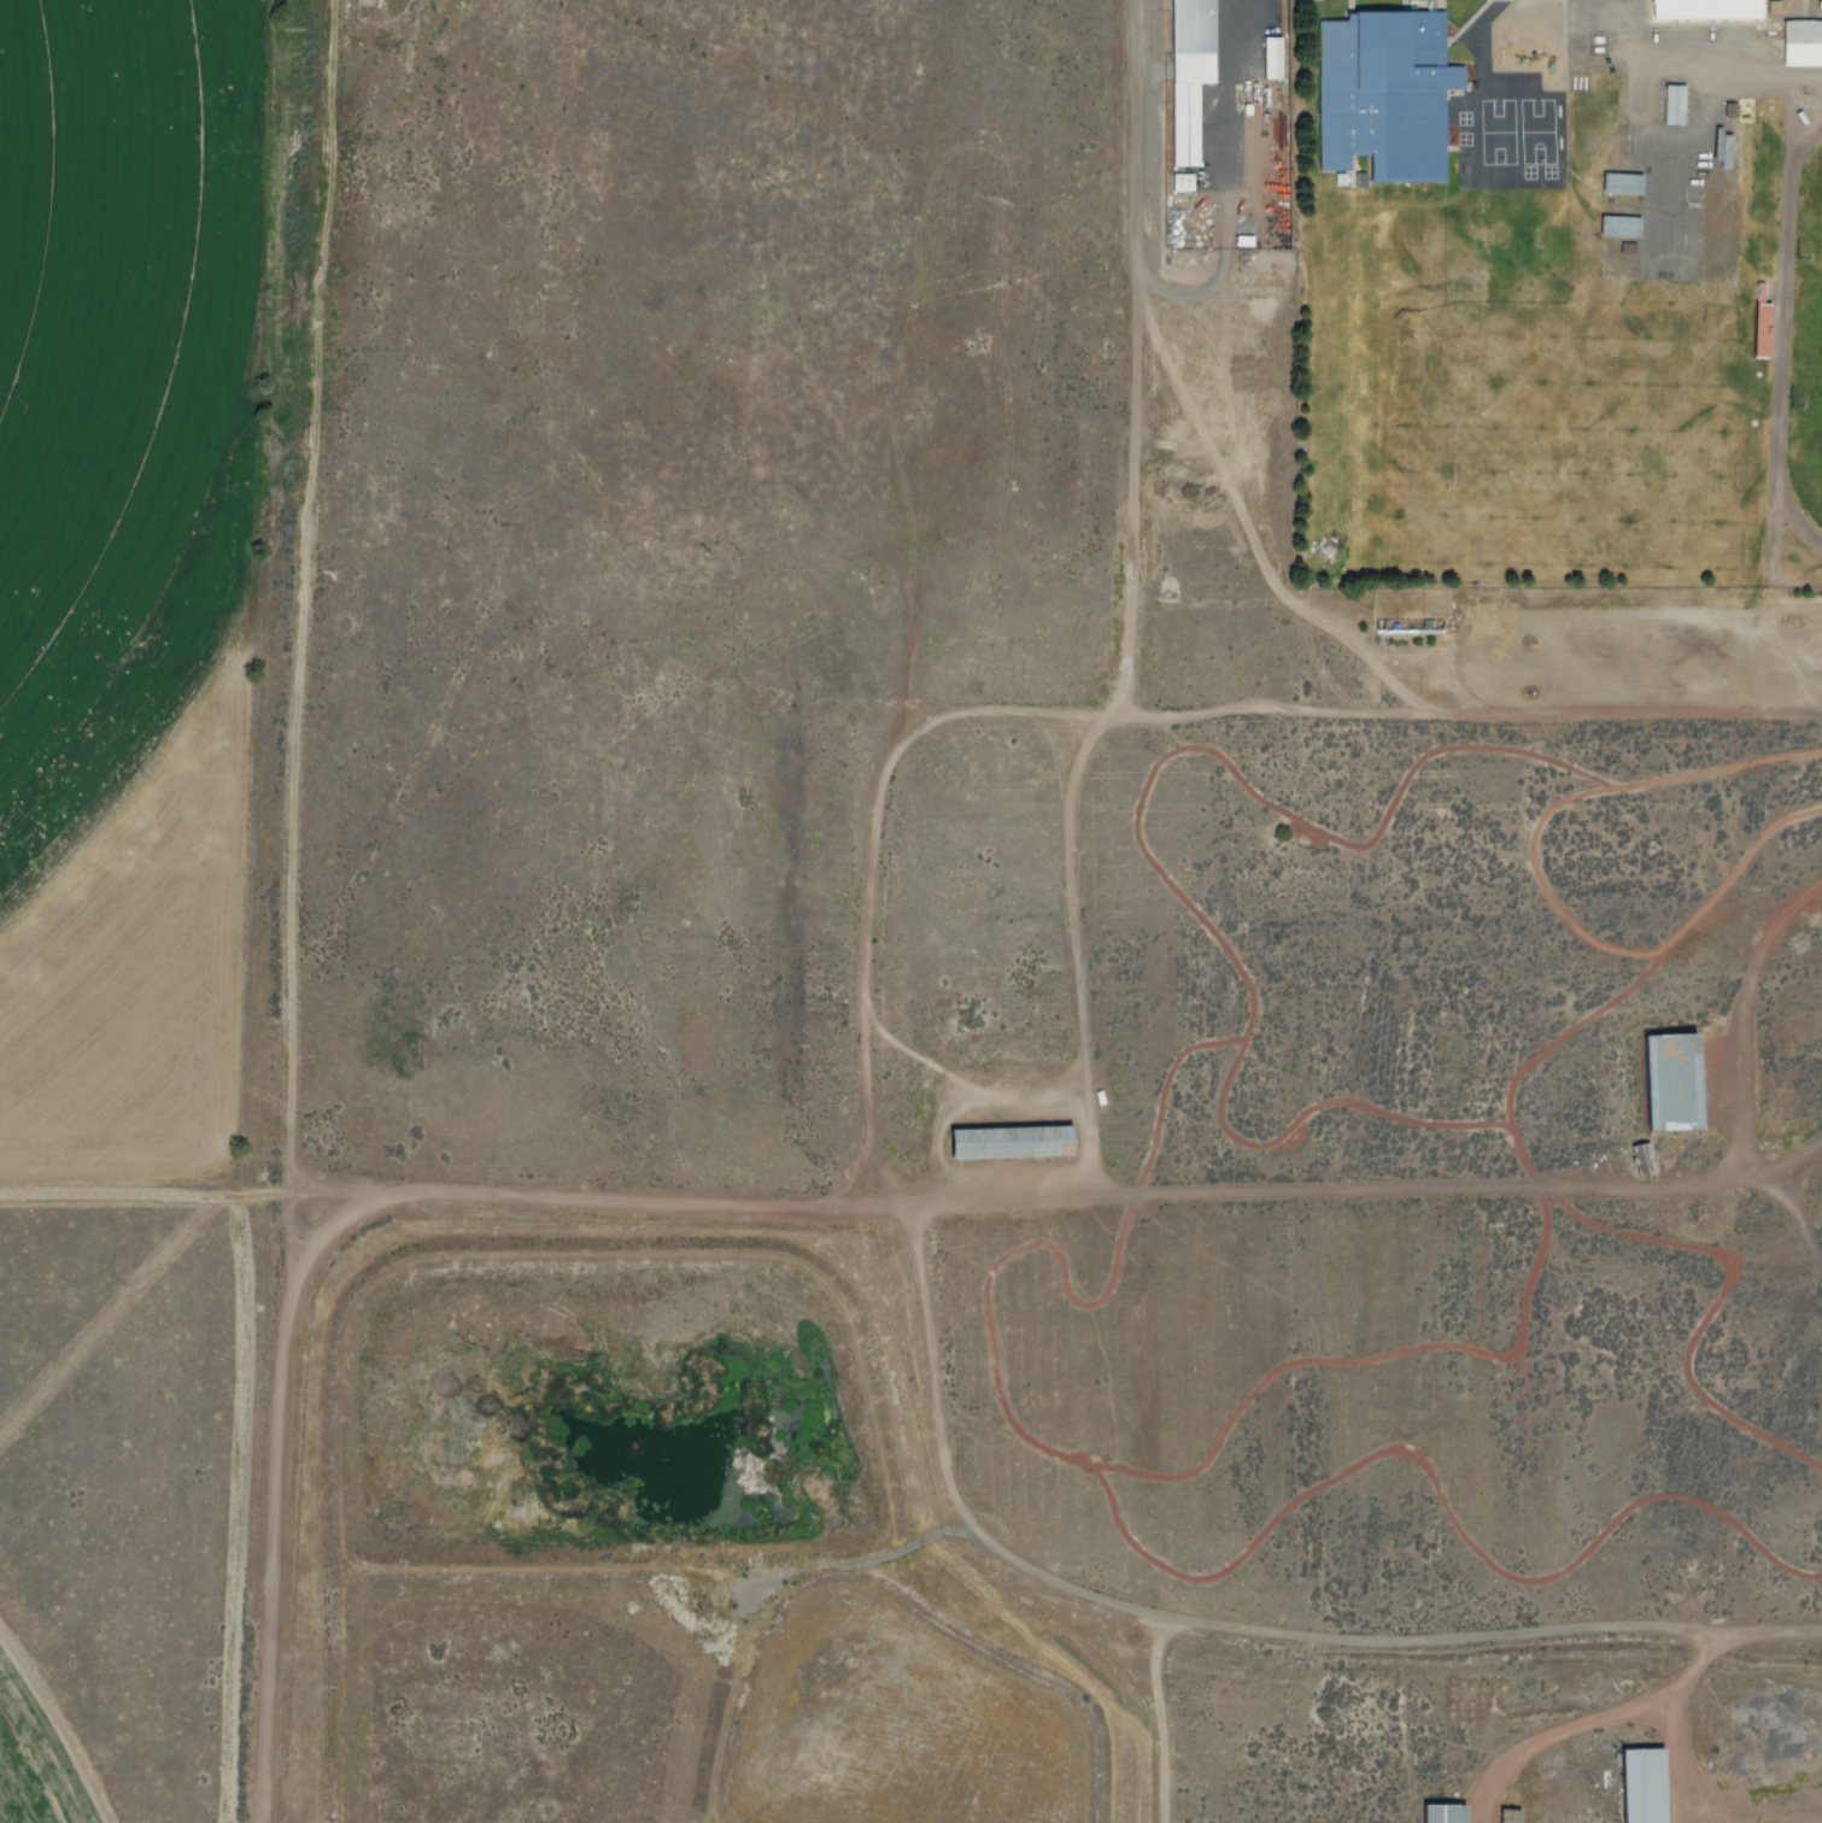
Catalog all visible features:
building: (1706, 10)
building: (1802, 41)
building: (1271, 54)
building: (1188, 72)
building: (1384, 93)
building: (1671, 102)
road: (1143, 121)
park: (1534, 129)
park: (1494, 130)
building: (1721, 146)
building: (1622, 182)
building: (1617, 224)
building: (1762, 332)
park: (1806, 336)
park: (1489, 412)
building: (1405, 625)
road: (1120, 720)
building: (1672, 1082)
building: (1002, 1137)
building: (1642, 1159)
road: (781, 1217)
road: (1795, 1224)
wastewater plant: (605, 1429)
road: (1225, 1631)
wastewater plant: (539, 1708)
wastewater plant: (906, 1733)
building: (1634, 1784)
building: (1436, 1812)

